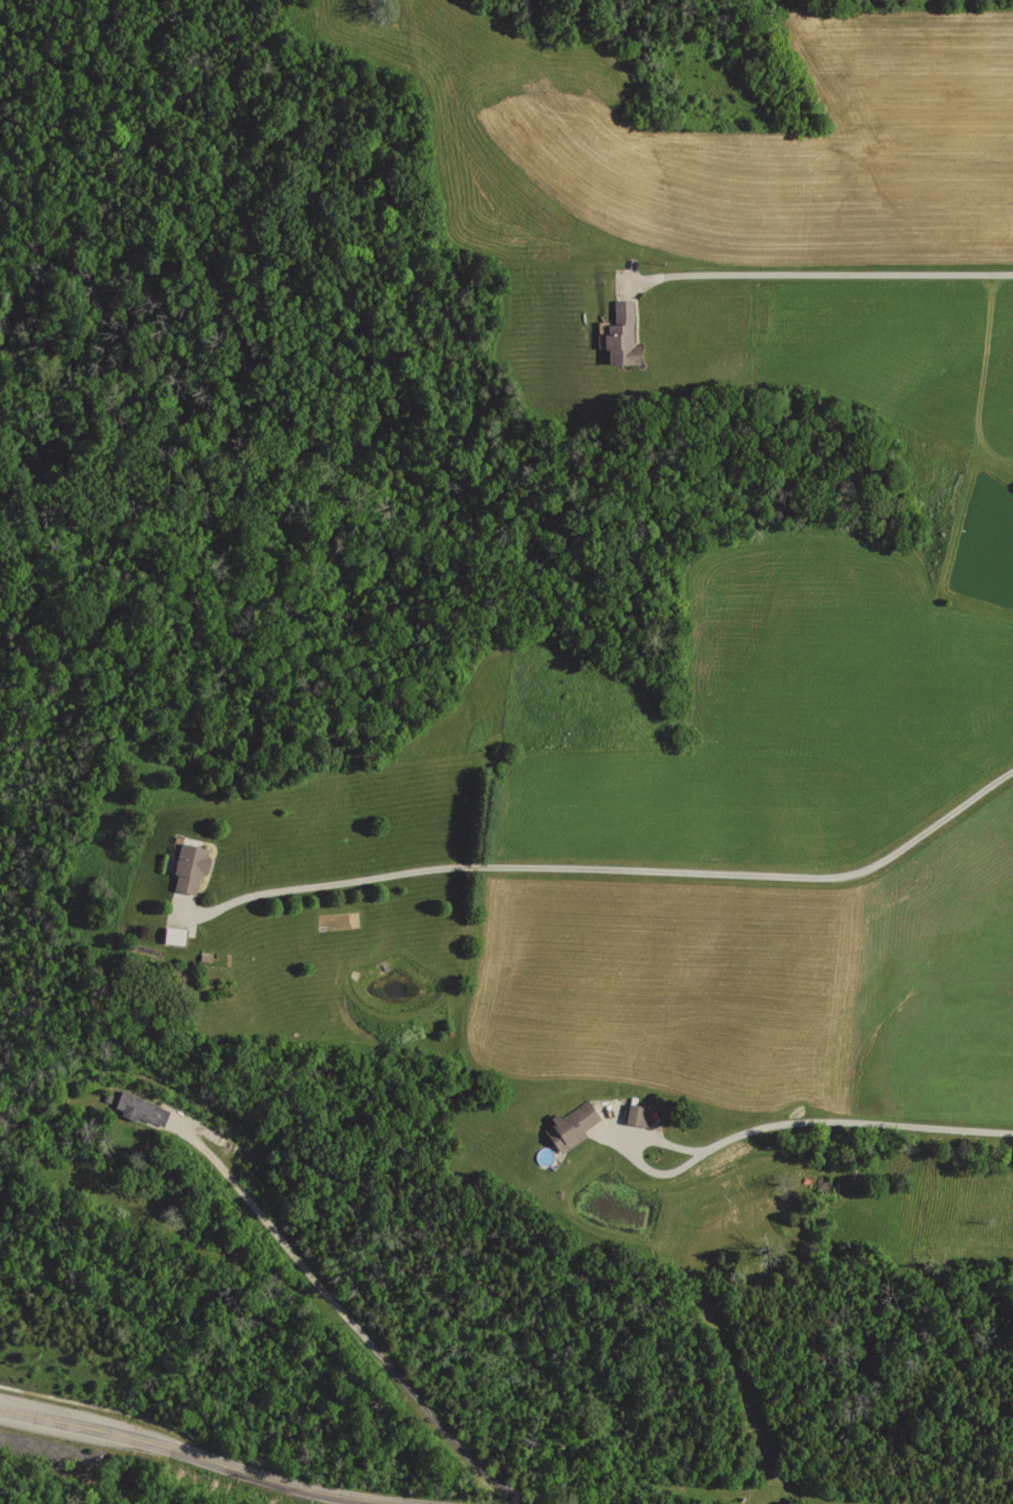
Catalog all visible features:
road: (829, 271)
building: (618, 332)
building: (189, 864)
road: (607, 867)
building: (172, 934)
building: (141, 1106)
building: (636, 1115)
road: (857, 1120)
building: (570, 1126)
building: (216, 1135)
road: (633, 1152)
road: (347, 1311)
road: (216, 1458)

